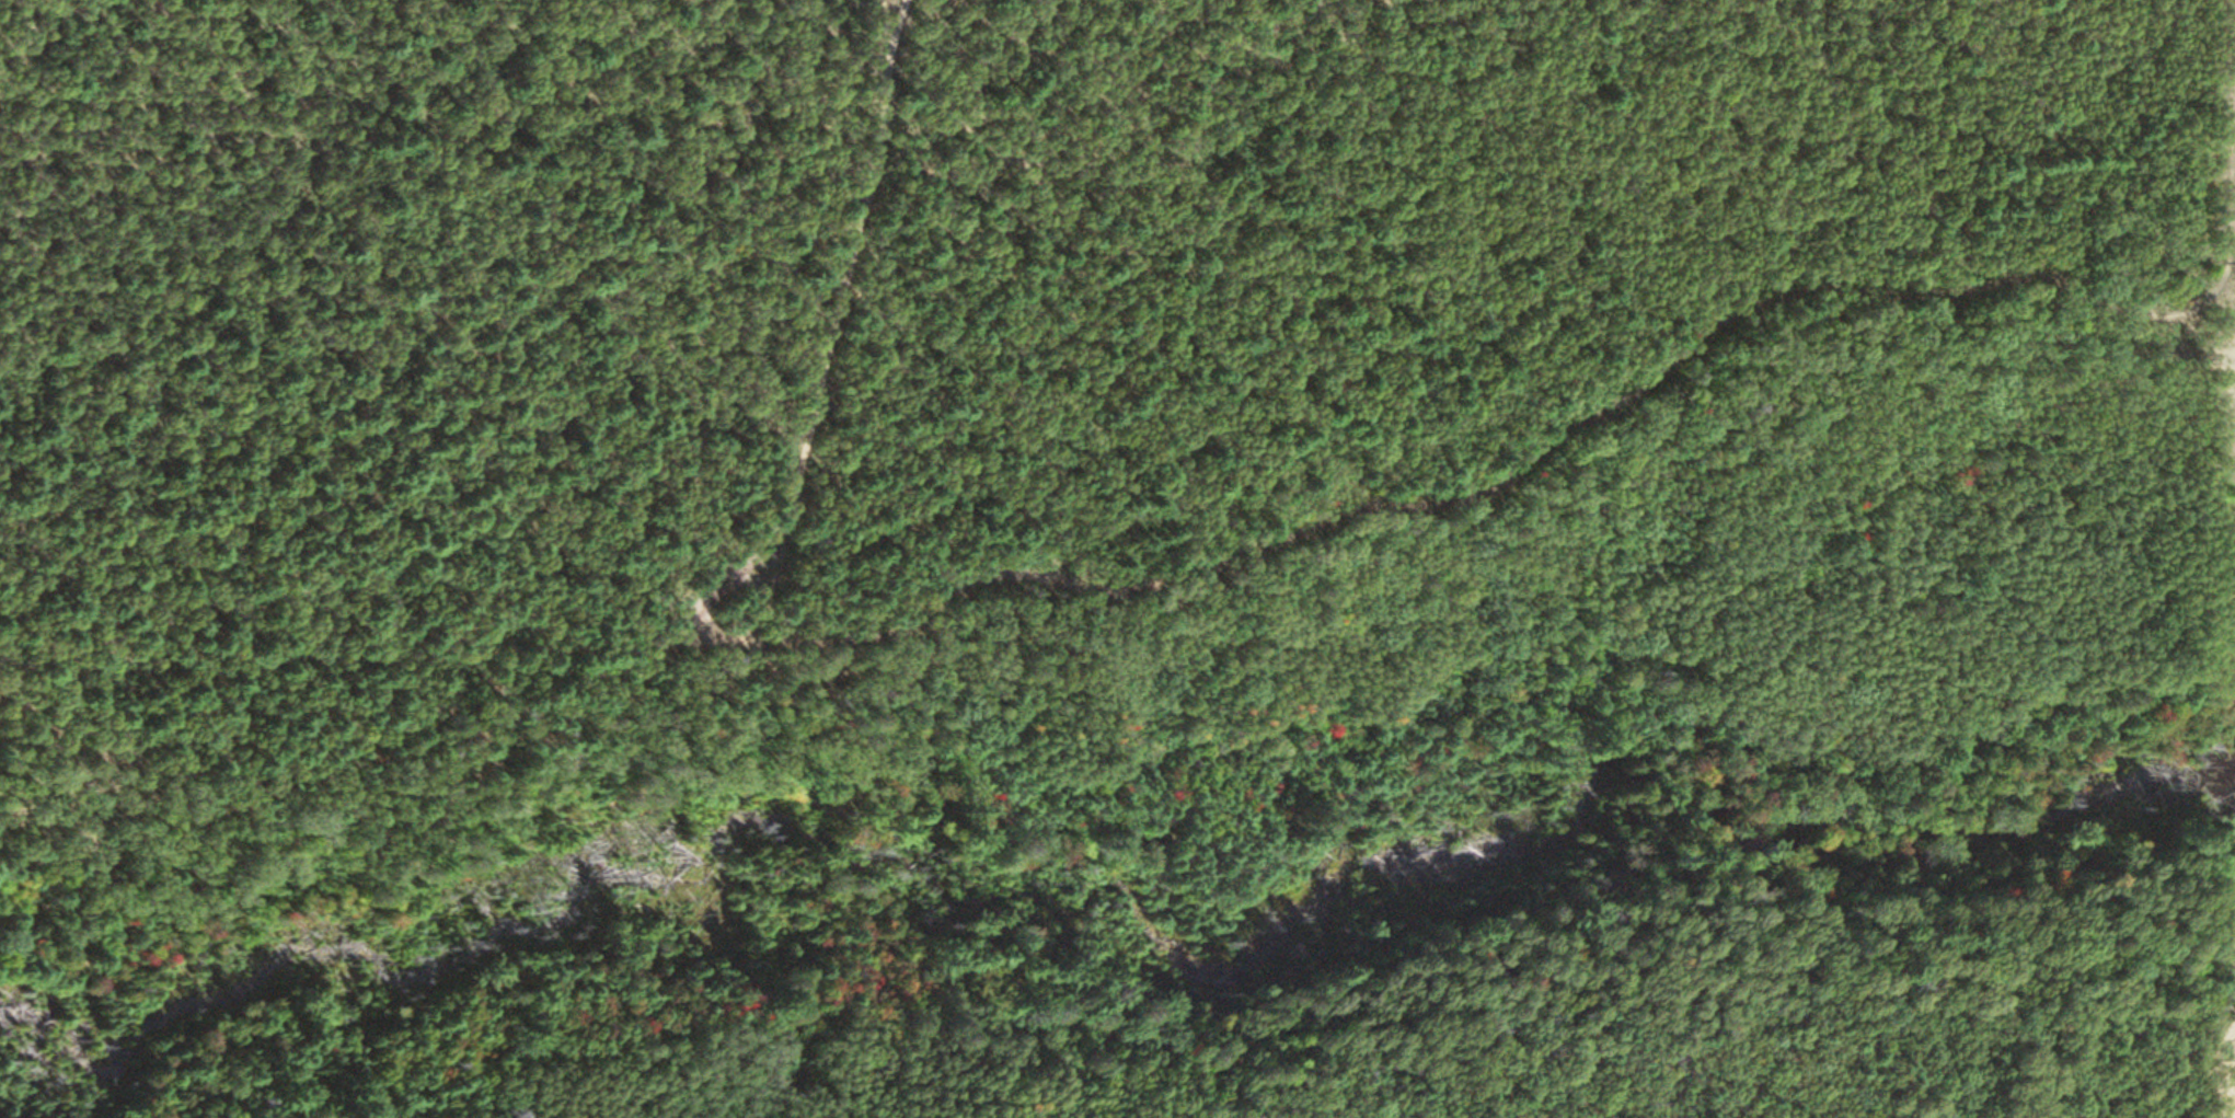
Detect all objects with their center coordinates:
road: (850, 281)
road: (1491, 481)
road: (701, 636)

